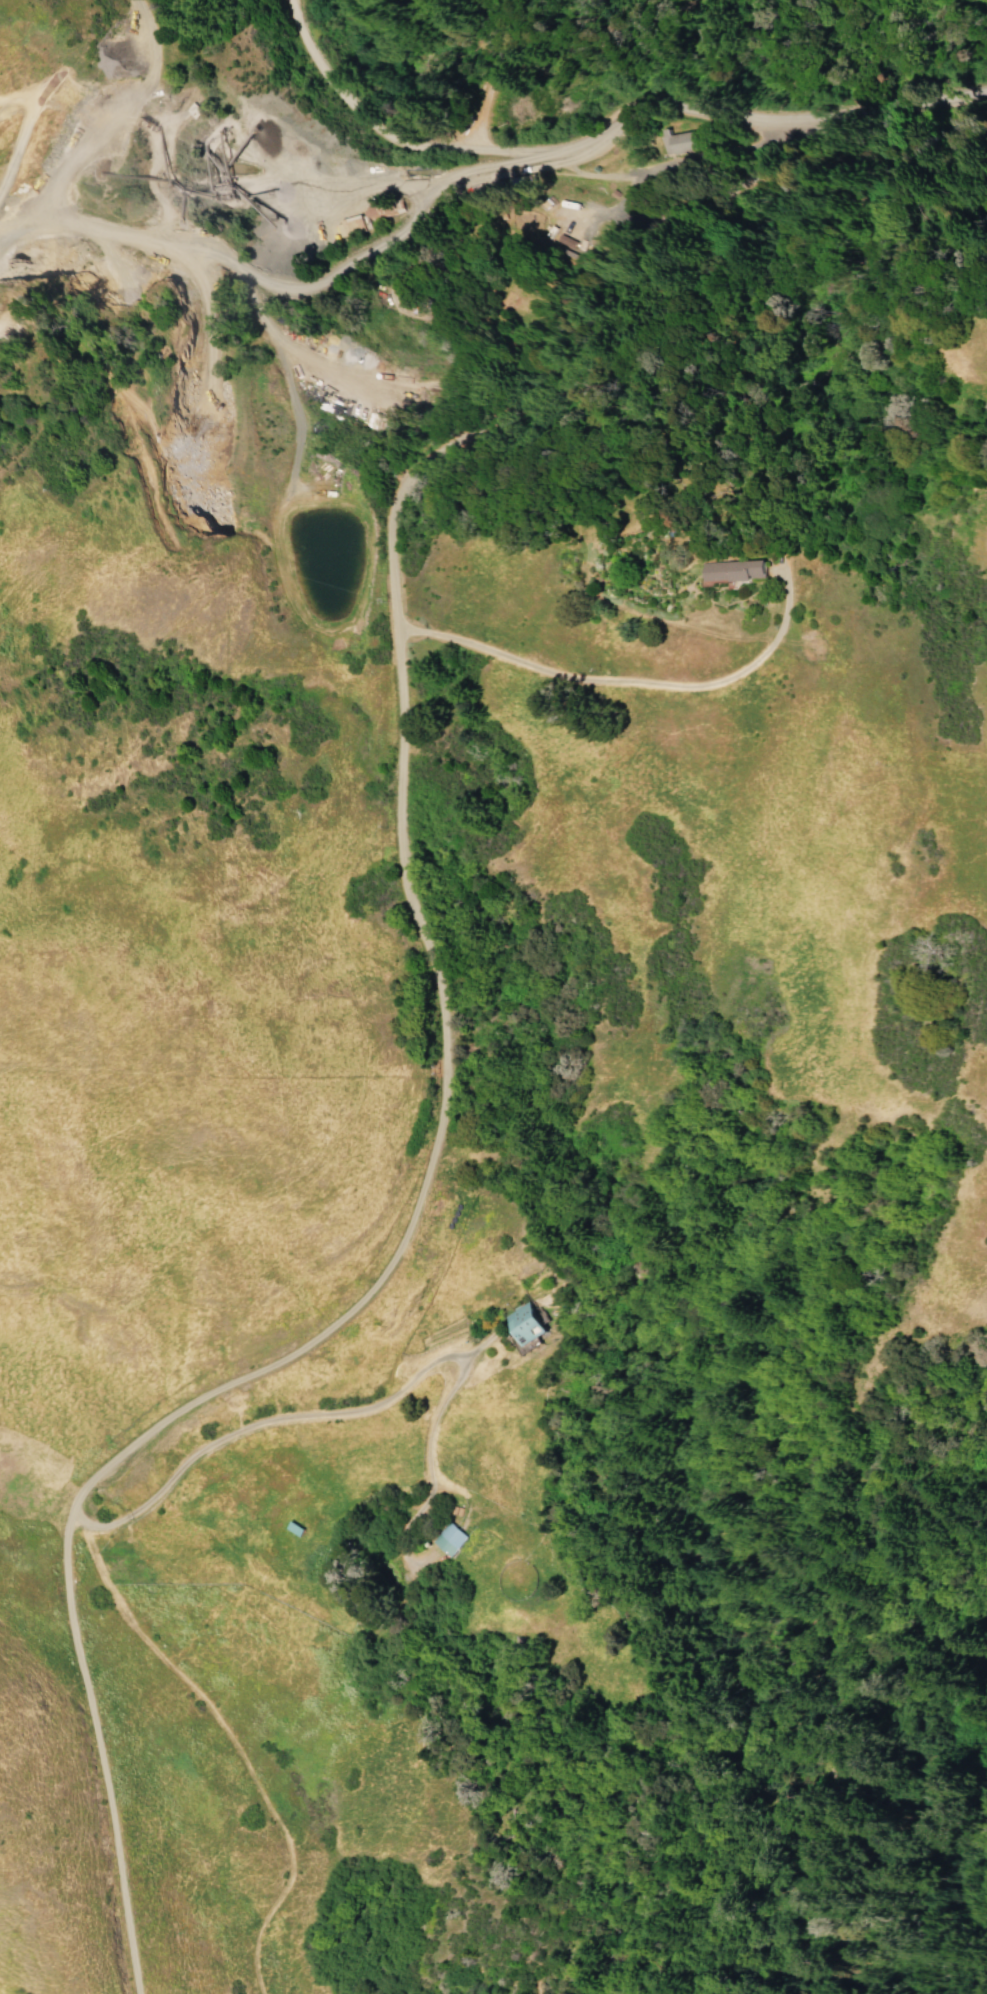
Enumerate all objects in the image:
road: (908, 107)
building: (678, 143)
road: (529, 160)
quarry: (193, 196)
building: (728, 572)
road: (629, 682)
road: (446, 1043)
building: (527, 1325)
road: (332, 1413)
building: (291, 1529)
building: (448, 1541)
road: (230, 1740)

